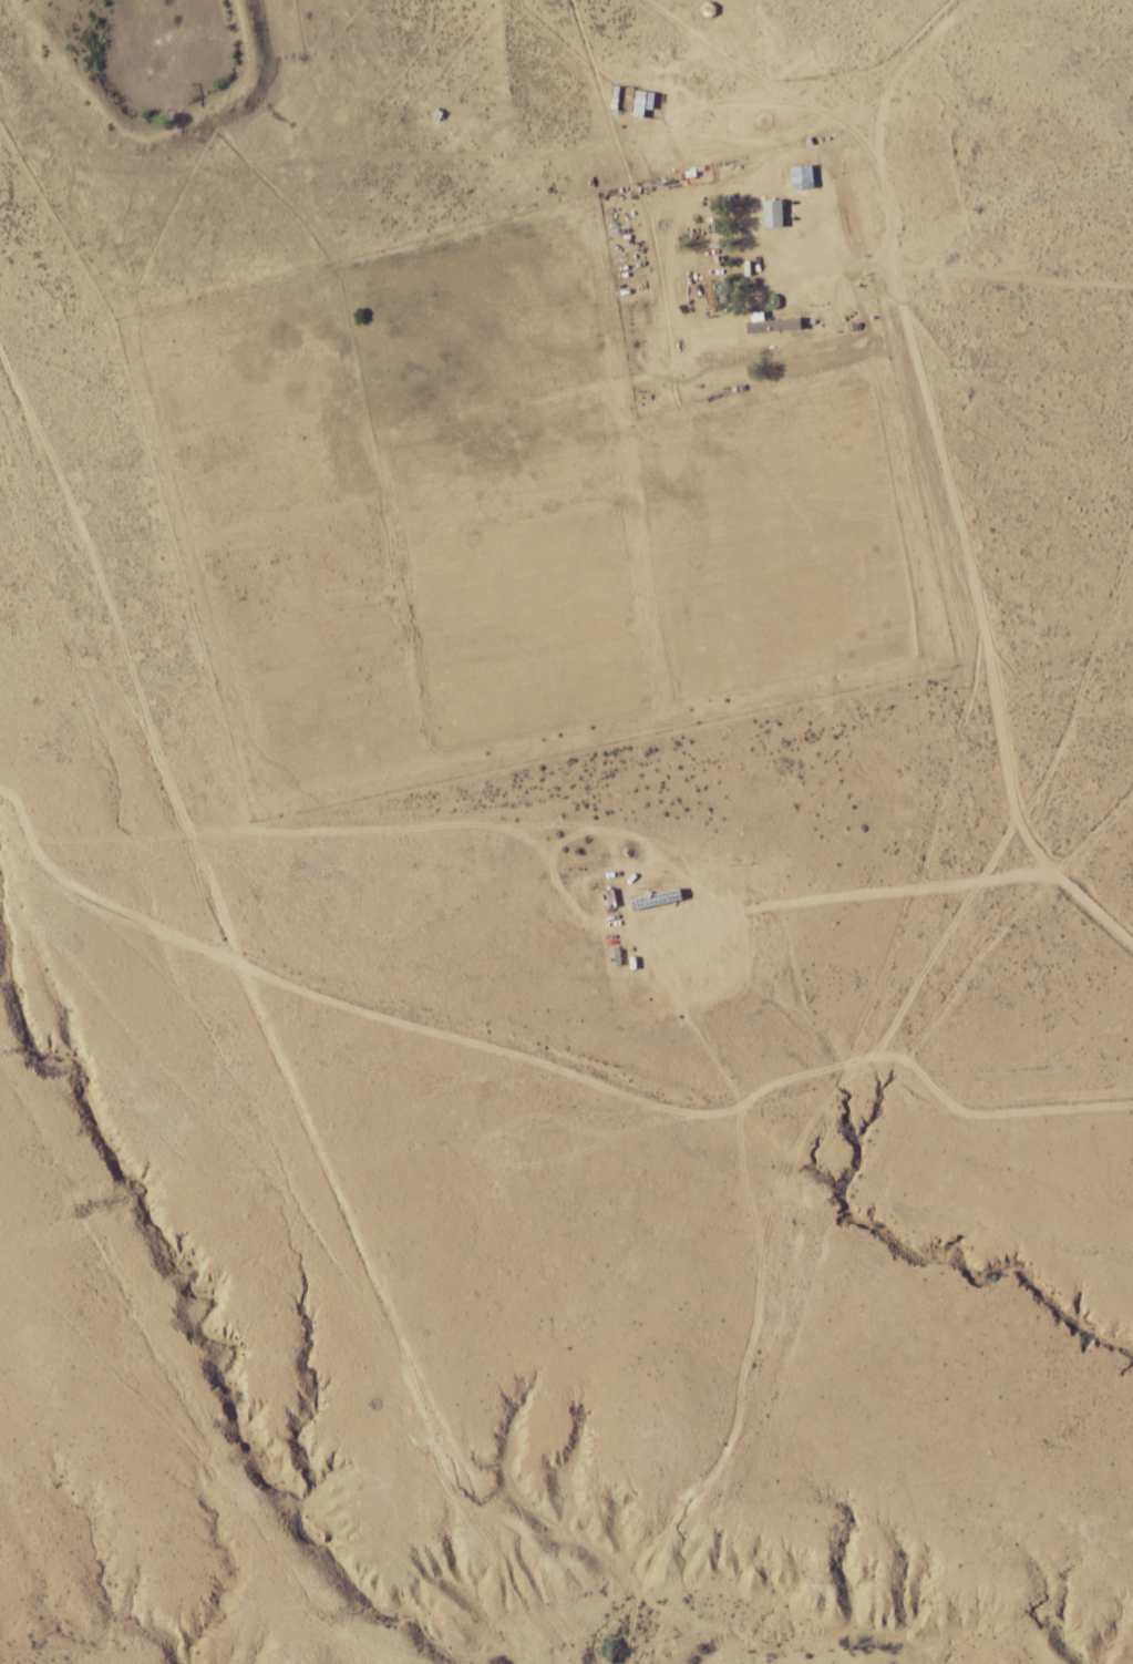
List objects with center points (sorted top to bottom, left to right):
road: (733, 66)
building: (800, 177)
building: (771, 213)
building: (772, 325)
road: (944, 476)
road: (267, 1041)

